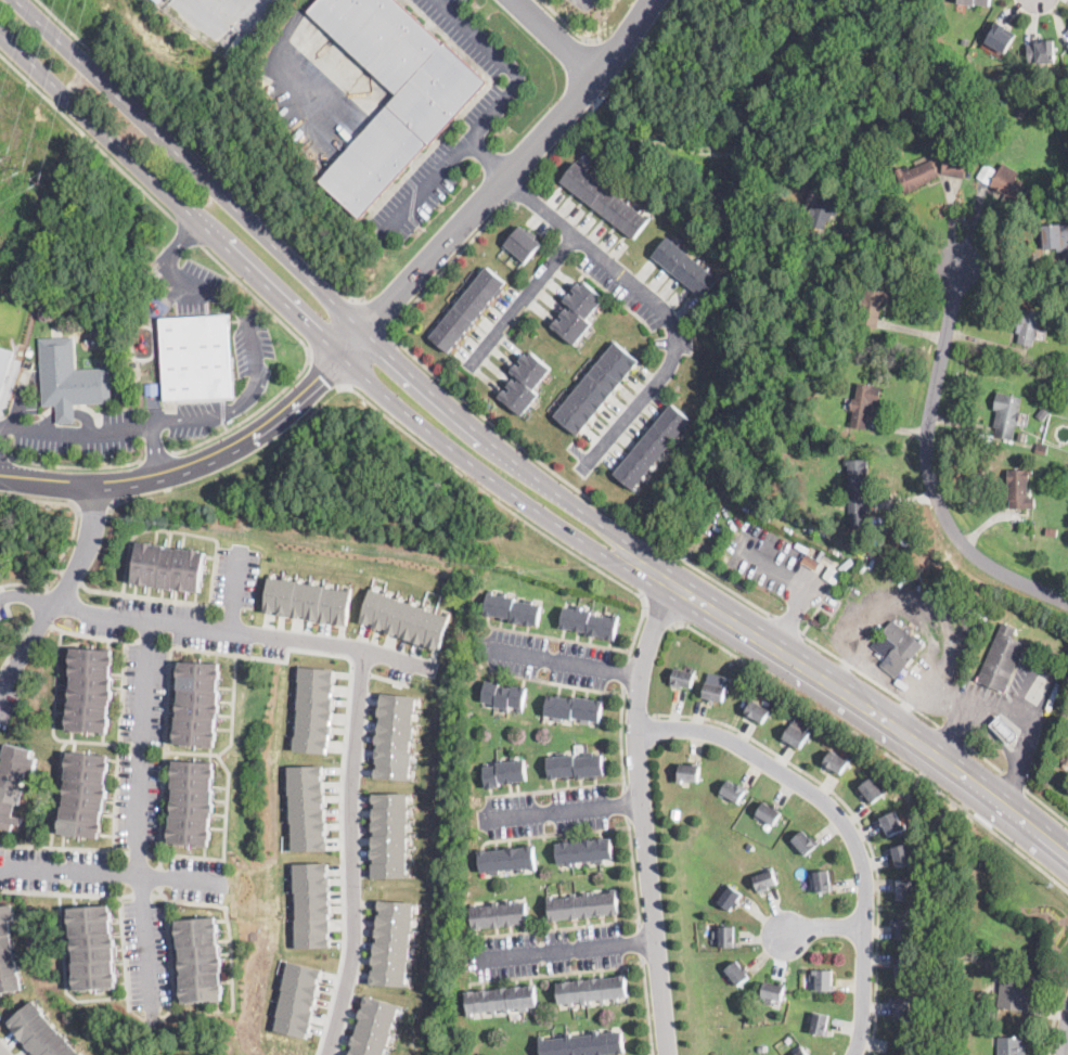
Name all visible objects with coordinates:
parking lot: (583, 2)
building: (977, 2)
road: (210, 15)
road: (567, 24)
building: (1066, 28)
building: (1067, 31)
parking lot: (465, 33)
road: (556, 35)
building: (1000, 36)
building: (965, 40)
building: (1067, 46)
building: (974, 50)
building: (1041, 51)
road: (609, 52)
building: (963, 52)
road: (293, 60)
building: (995, 82)
road: (603, 94)
building: (1020, 112)
road: (493, 114)
building: (414, 118)
building: (912, 128)
road: (88, 136)
building: (1054, 141)
road: (200, 151)
building: (776, 153)
road: (488, 157)
building: (954, 166)
power tower: (24, 167)
parking lot: (438, 168)
building: (846, 169)
building: (987, 172)
building: (915, 173)
building: (1009, 184)
road: (519, 186)
building: (604, 201)
building: (823, 208)
road: (189, 231)
building: (1055, 236)
road: (890, 243)
building: (524, 244)
road: (175, 253)
building: (1065, 257)
road: (447, 262)
building: (684, 267)
building: (887, 276)
road: (256, 295)
road: (520, 297)
building: (872, 303)
road: (657, 304)
building: (467, 309)
building: (578, 312)
road: (376, 313)
road: (372, 321)
building: (1026, 323)
building: (28, 352)
building: (196, 357)
building: (4, 363)
road: (326, 365)
road: (256, 374)
building: (68, 378)
building: (525, 383)
building: (152, 387)
building: (595, 388)
building: (863, 403)
road: (222, 410)
road: (250, 412)
building: (1006, 413)
building: (1042, 413)
road: (67, 414)
road: (224, 425)
road: (0, 430)
road: (76, 433)
building: (1021, 435)
building: (986, 436)
road: (156, 447)
building: (652, 447)
building: (1041, 448)
road: (156, 454)
road: (4, 456)
road: (512, 458)
road: (75, 464)
road: (928, 465)
building: (1060, 475)
road: (572, 485)
building: (855, 486)
road: (504, 488)
building: (1017, 488)
road: (514, 513)
road: (75, 515)
building: (1051, 530)
road: (177, 531)
building: (811, 559)
building: (168, 565)
road: (70, 575)
parking lot: (236, 576)
road: (798, 577)
road: (33, 582)
road: (61, 591)
road: (234, 591)
road: (149, 596)
building: (307, 599)
road: (37, 600)
road: (925, 605)
parking lot: (2, 609)
building: (513, 609)
building: (402, 615)
road: (660, 616)
road: (10, 617)
road: (40, 617)
road: (786, 621)
building: (590, 622)
road: (216, 628)
road: (93, 634)
road: (16, 639)
road: (559, 639)
building: (899, 645)
building: (1001, 658)
road: (563, 661)
road: (359, 669)
road: (625, 671)
road: (233, 673)
road: (868, 677)
road: (388, 678)
building: (682, 678)
road: (555, 683)
road: (1022, 686)
building: (90, 690)
building: (713, 692)
building: (504, 696)
building: (197, 702)
road: (638, 706)
building: (313, 707)
building: (574, 708)
building: (757, 711)
road: (51, 713)
road: (1015, 715)
building: (1004, 730)
road: (951, 731)
building: (395, 734)
building: (796, 735)
road: (620, 738)
road: (117, 744)
road: (142, 746)
road: (876, 747)
road: (163, 755)
road: (983, 755)
building: (1065, 761)
building: (835, 762)
building: (576, 765)
building: (505, 772)
building: (689, 772)
road: (1013, 777)
building: (13, 783)
road: (555, 788)
building: (732, 790)
building: (871, 790)
road: (54, 792)
building: (85, 793)
road: (339, 795)
building: (192, 801)
road: (1046, 802)
road: (627, 803)
building: (307, 806)
road: (563, 810)
road: (642, 811)
building: (769, 813)
road: (224, 814)
road: (858, 821)
road: (842, 822)
building: (891, 823)
building: (767, 825)
building: (389, 833)
road: (557, 833)
building: (805, 842)
road: (64, 846)
road: (137, 850)
building: (584, 851)
road: (350, 852)
building: (903, 855)
building: (506, 859)
road: (108, 872)
road: (632, 873)
road: (158, 876)
building: (822, 880)
building: (764, 882)
building: (904, 889)
road: (65, 892)
road: (141, 893)
building: (731, 898)
building: (311, 903)
building: (583, 905)
building: (500, 915)
road: (820, 925)
road: (557, 927)
building: (903, 927)
building: (726, 936)
road: (144, 937)
building: (391, 941)
road: (641, 941)
building: (93, 945)
road: (168, 945)
road: (564, 949)
building: (7, 952)
road: (123, 952)
building: (200, 957)
building: (902, 968)
road: (557, 973)
building: (737, 974)
building: (824, 980)
building: (592, 990)
building: (773, 991)
building: (1014, 994)
building: (297, 998)
building: (501, 1000)
road: (647, 1005)
building: (901, 1007)
road: (1055, 1014)
building: (819, 1024)
building: (374, 1026)
building: (38, 1032)
road: (1065, 1038)
building: (898, 1043)
building: (584, 1044)
building: (1009, 1046)
building: (761, 1047)
building: (801, 1051)
road: (2, 1052)

